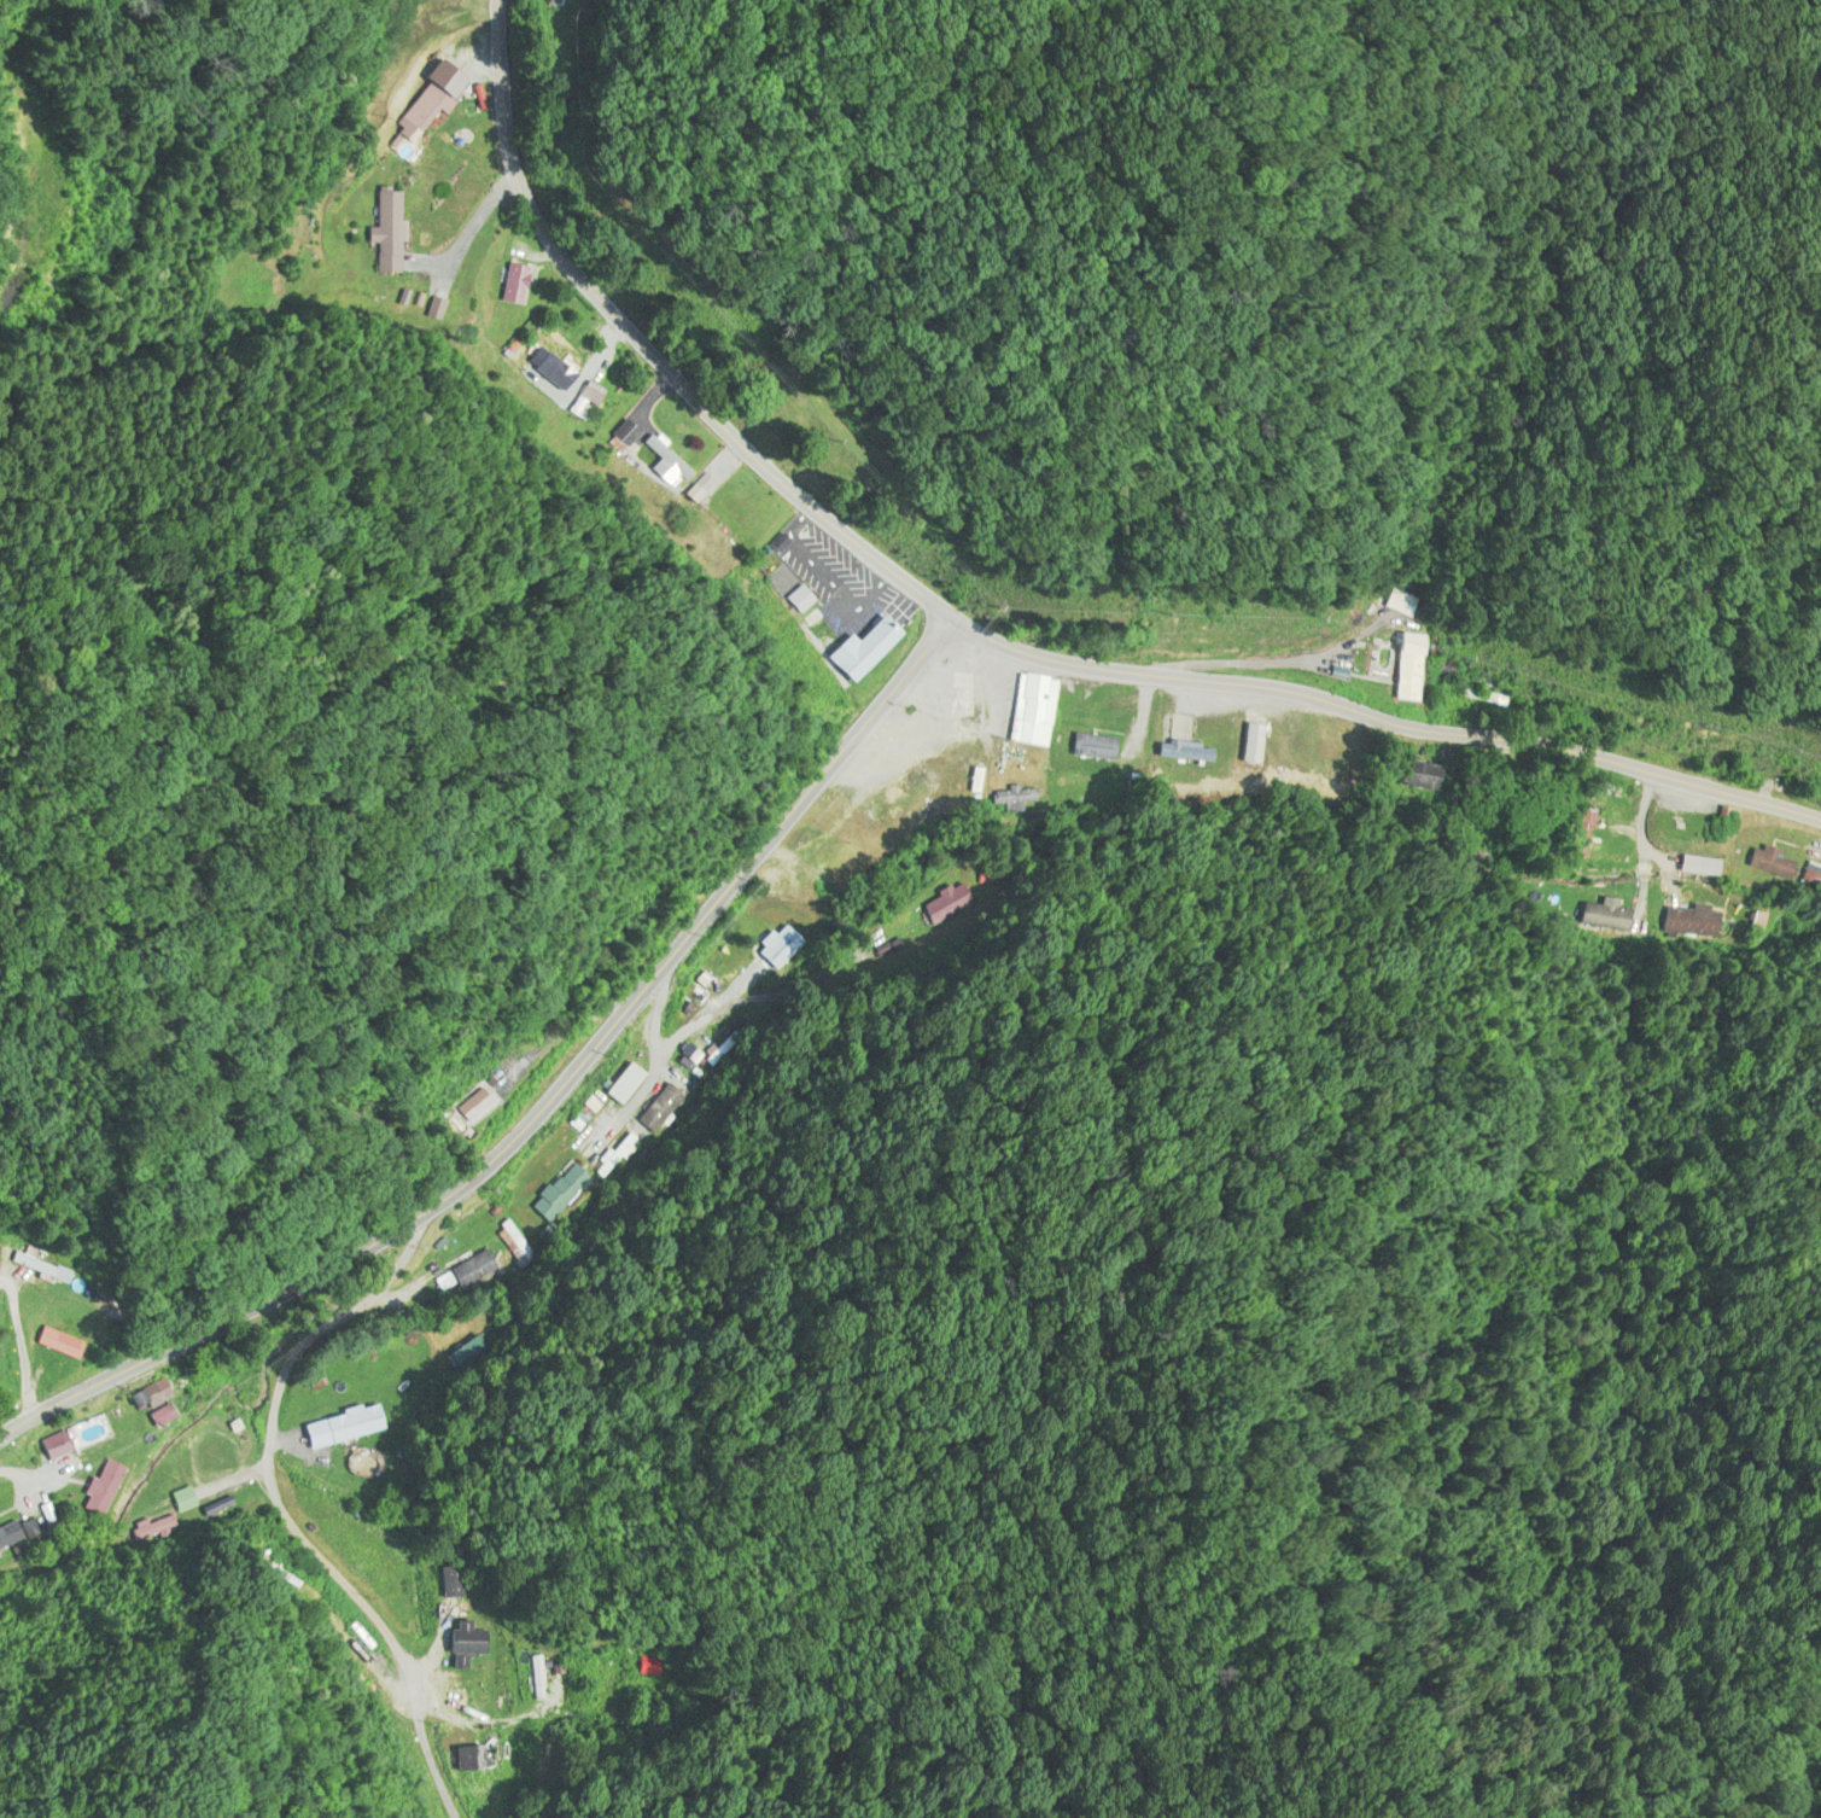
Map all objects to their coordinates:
building: (467, 48)
building: (415, 112)
building: (380, 233)
building: (509, 286)
building: (553, 374)
building: (578, 403)
building: (619, 437)
building: (663, 459)
building: (795, 601)
building: (1400, 604)
road: (992, 640)
building: (854, 652)
building: (1403, 670)
building: (951, 692)
building: (1027, 712)
building: (1247, 746)
building: (1087, 748)
building: (1178, 752)
building: (1422, 777)
building: (1076, 782)
building: (1011, 799)
building: (1593, 809)
building: (1607, 849)
building: (1769, 862)
building: (1697, 867)
building: (1810, 875)
building: (1692, 921)
building: (1761, 923)
building: (777, 949)
road: (1494, 1018)
building: (620, 1085)
building: (466, 1105)
road: (542, 1107)
building: (661, 1112)
building: (625, 1158)
building: (562, 1195)
building: (7, 1198)
building: (34, 1269)
building: (474, 1269)
building: (52, 1344)
road: (688, 1376)
building: (147, 1416)
building: (340, 1427)
building: (99, 1488)
building: (170, 1517)
building: (8, 1532)
building: (444, 1583)
building: (461, 1641)
building: (535, 1674)

